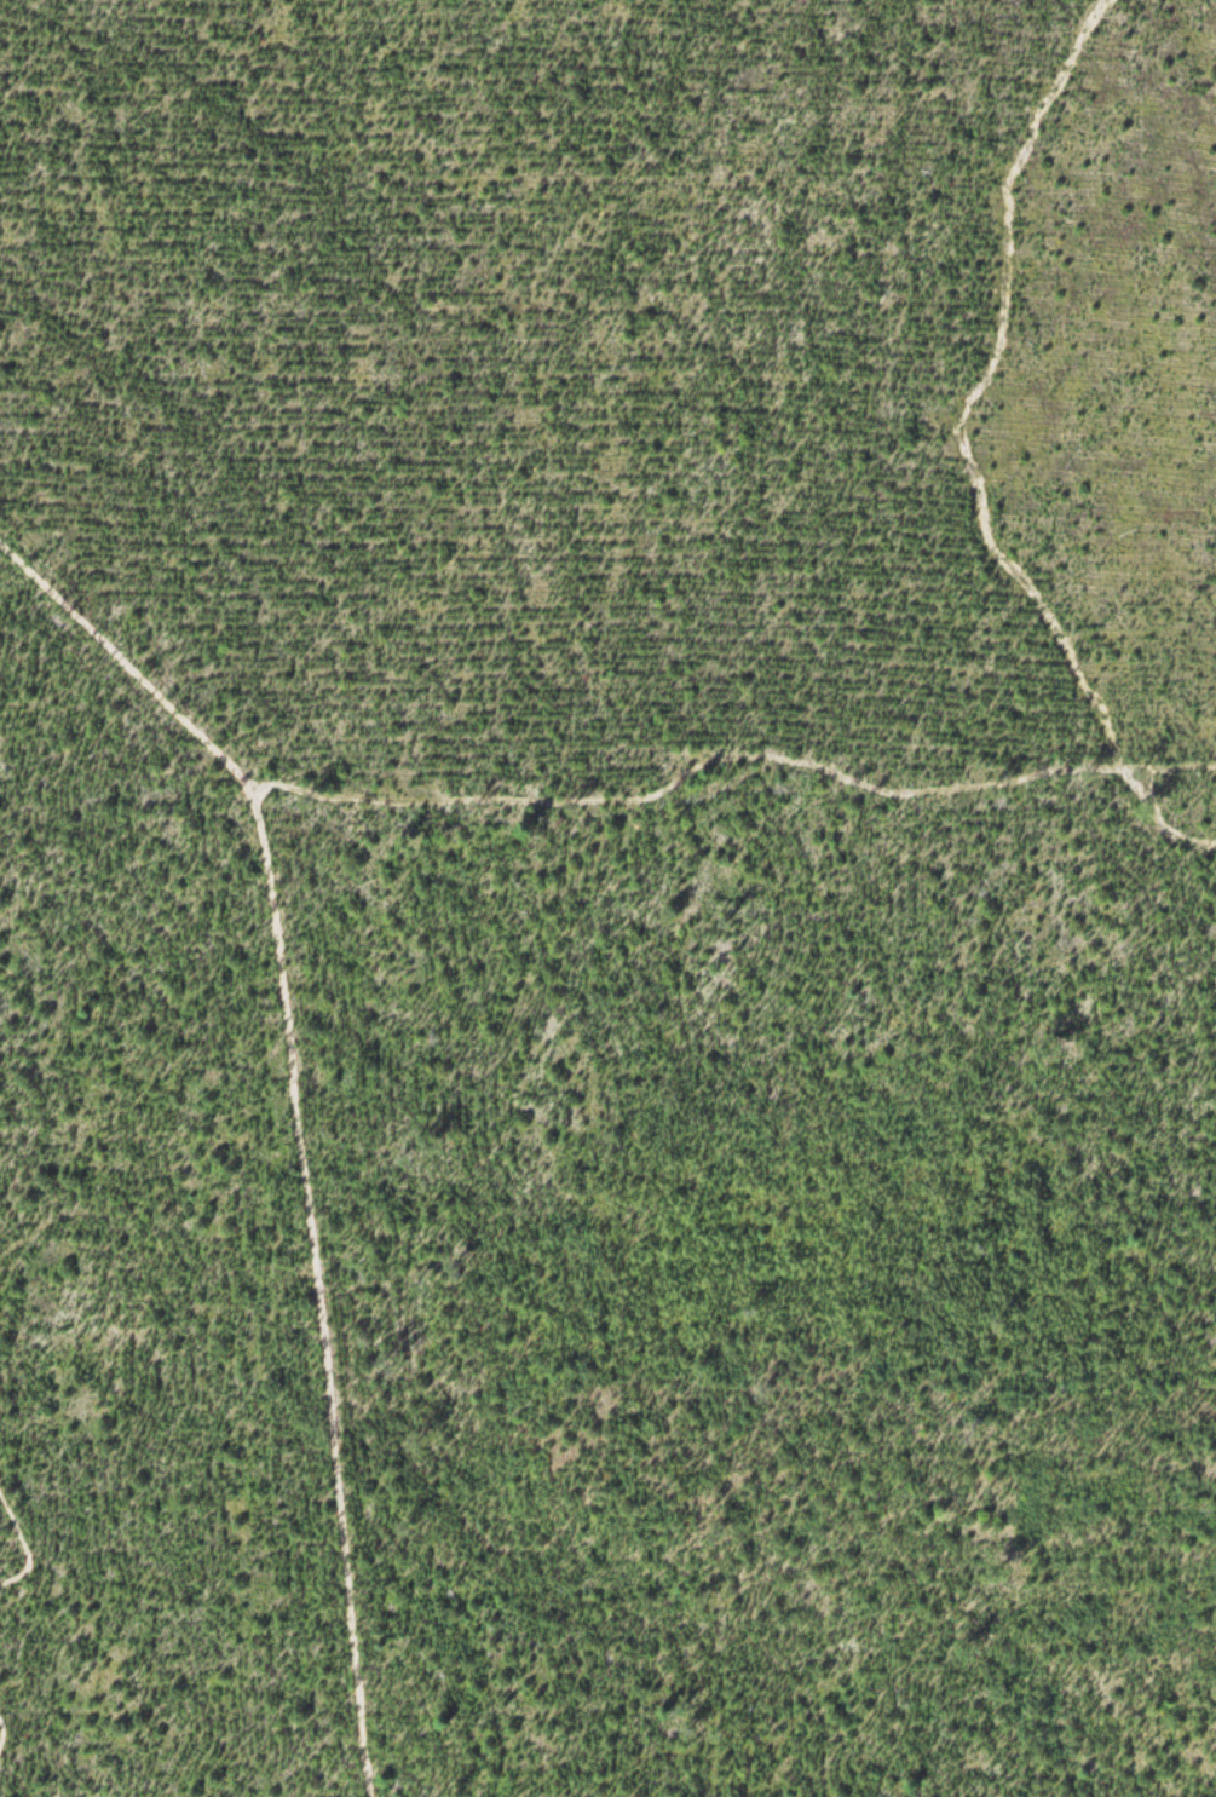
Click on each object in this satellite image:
road: (733, 749)
road: (299, 1115)
road: (15, 1548)

